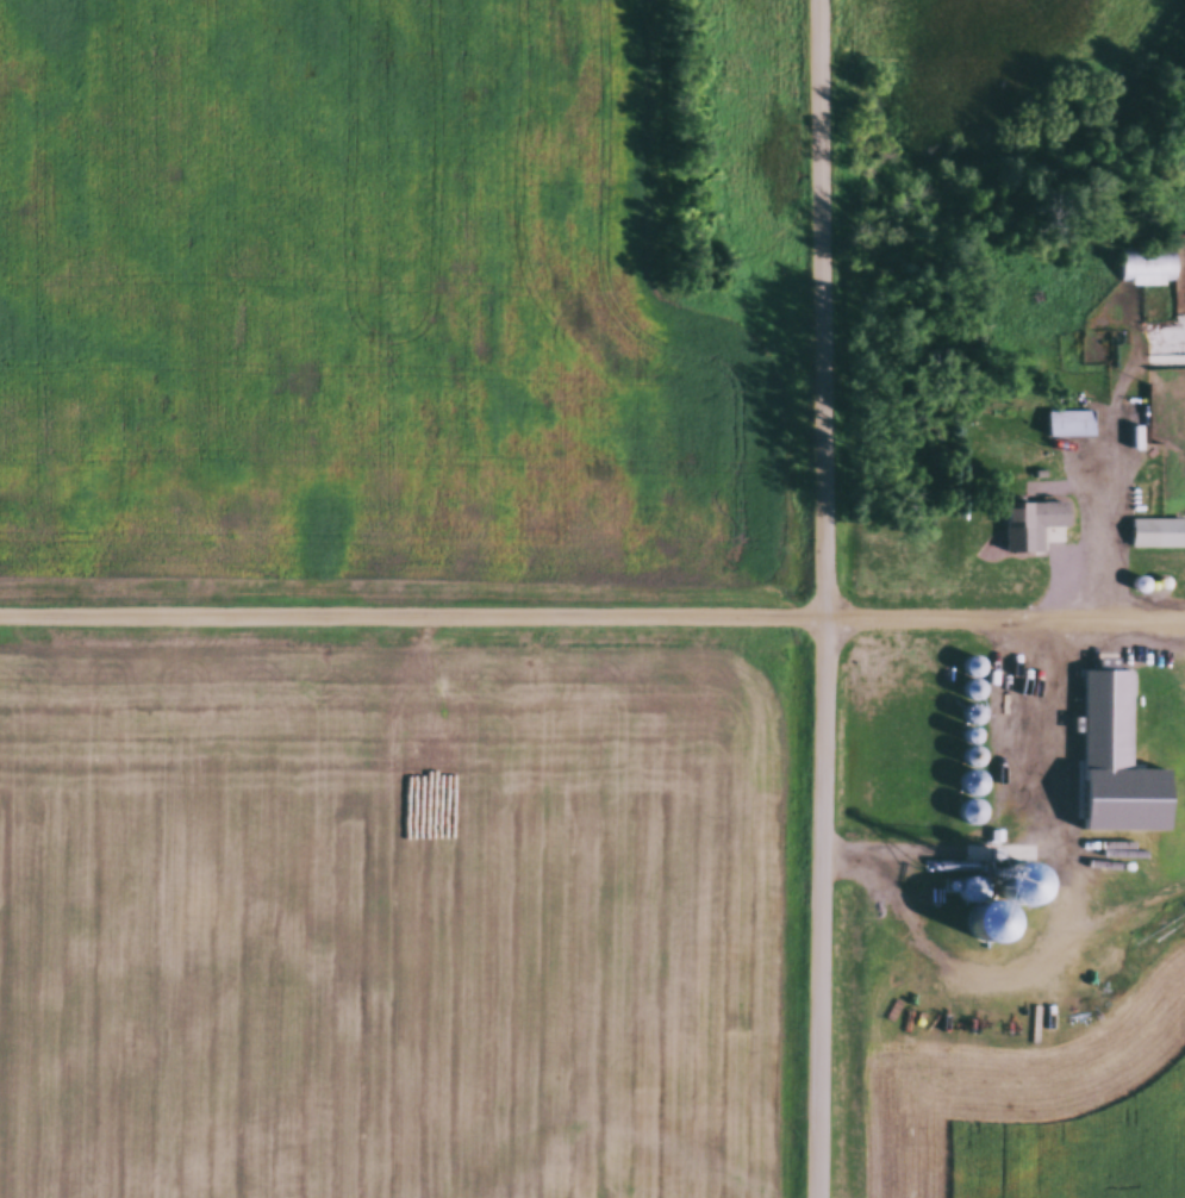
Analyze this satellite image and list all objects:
building: (1150, 268)
building: (1069, 424)
building: (1035, 524)
building: (1158, 534)
road: (824, 598)
road: (412, 613)
road: (1004, 618)
building: (1108, 715)
building: (1116, 793)

